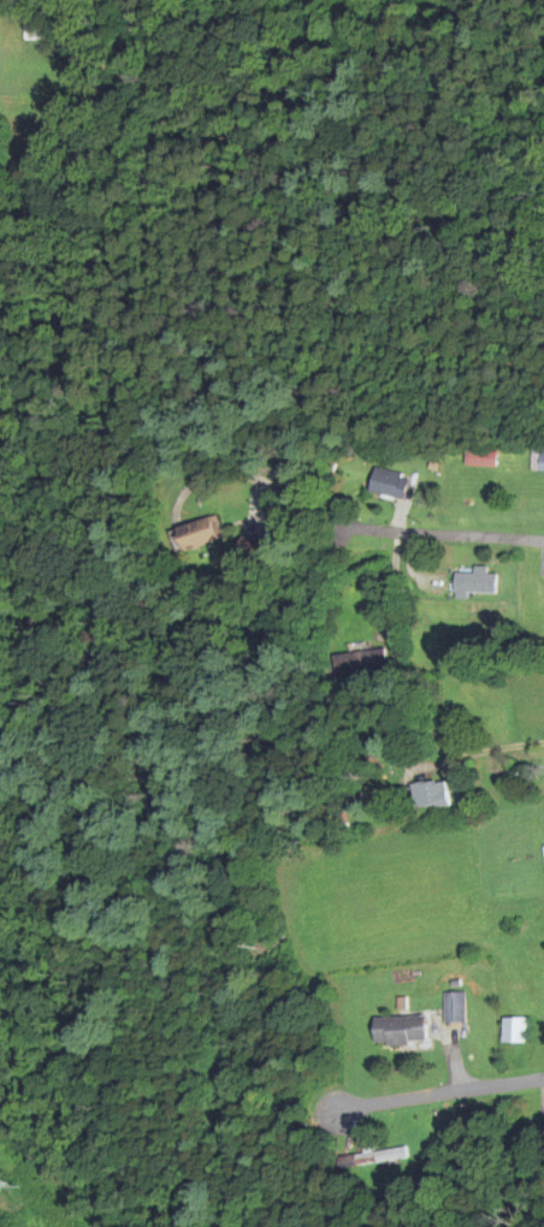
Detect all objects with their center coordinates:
building: (214, 1)
building: (30, 30)
building: (480, 460)
building: (537, 461)
building: (386, 486)
building: (194, 537)
road: (443, 537)
building: (473, 585)
building: (359, 664)
road: (484, 752)
building: (424, 798)
building: (453, 1007)
building: (397, 1030)
building: (513, 1031)
road: (442, 1092)
building: (366, 1158)
building: (522, 1175)

